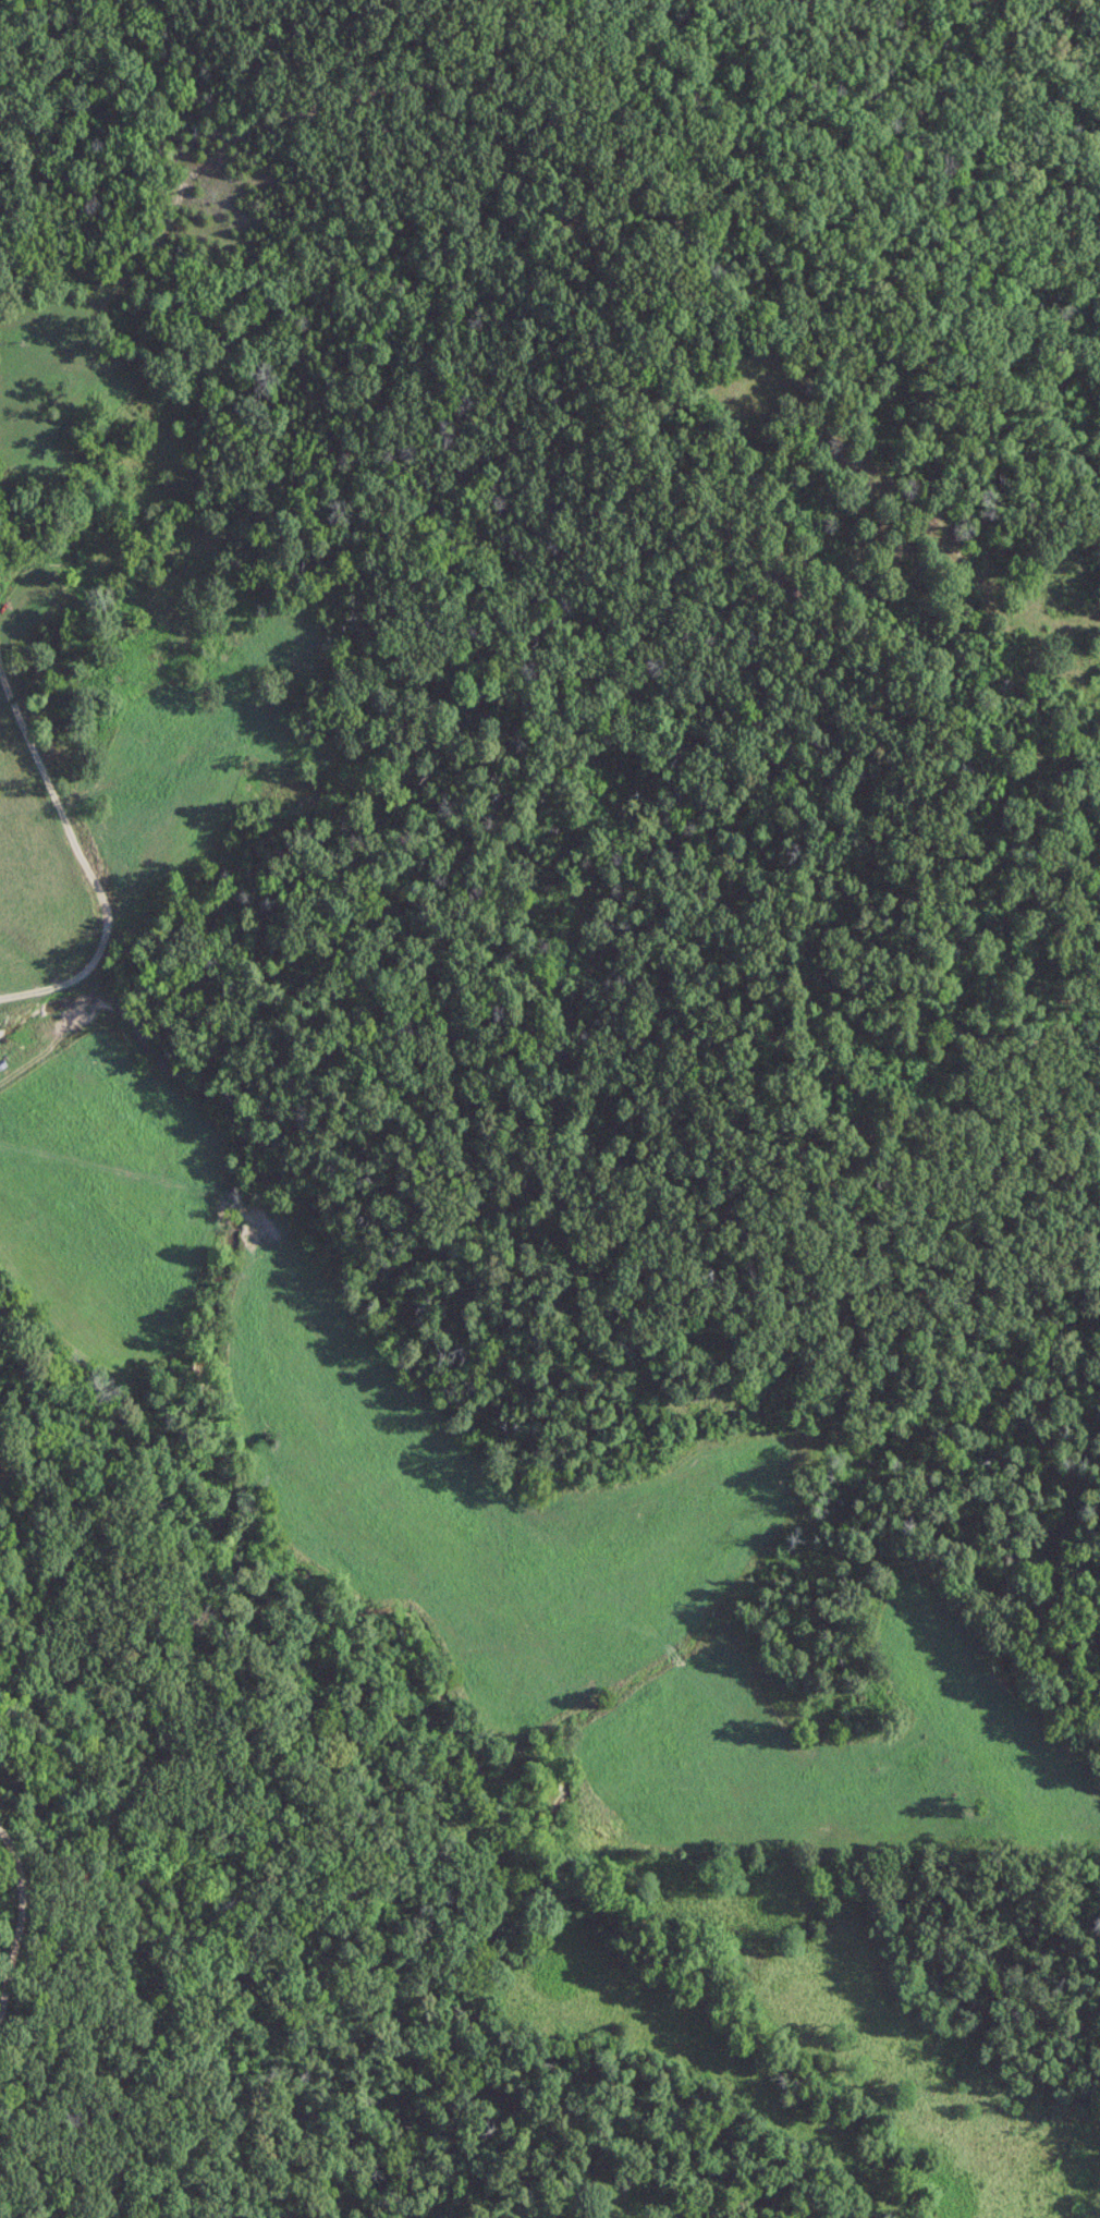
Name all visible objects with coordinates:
road: (80, 858)
road: (21, 1910)

